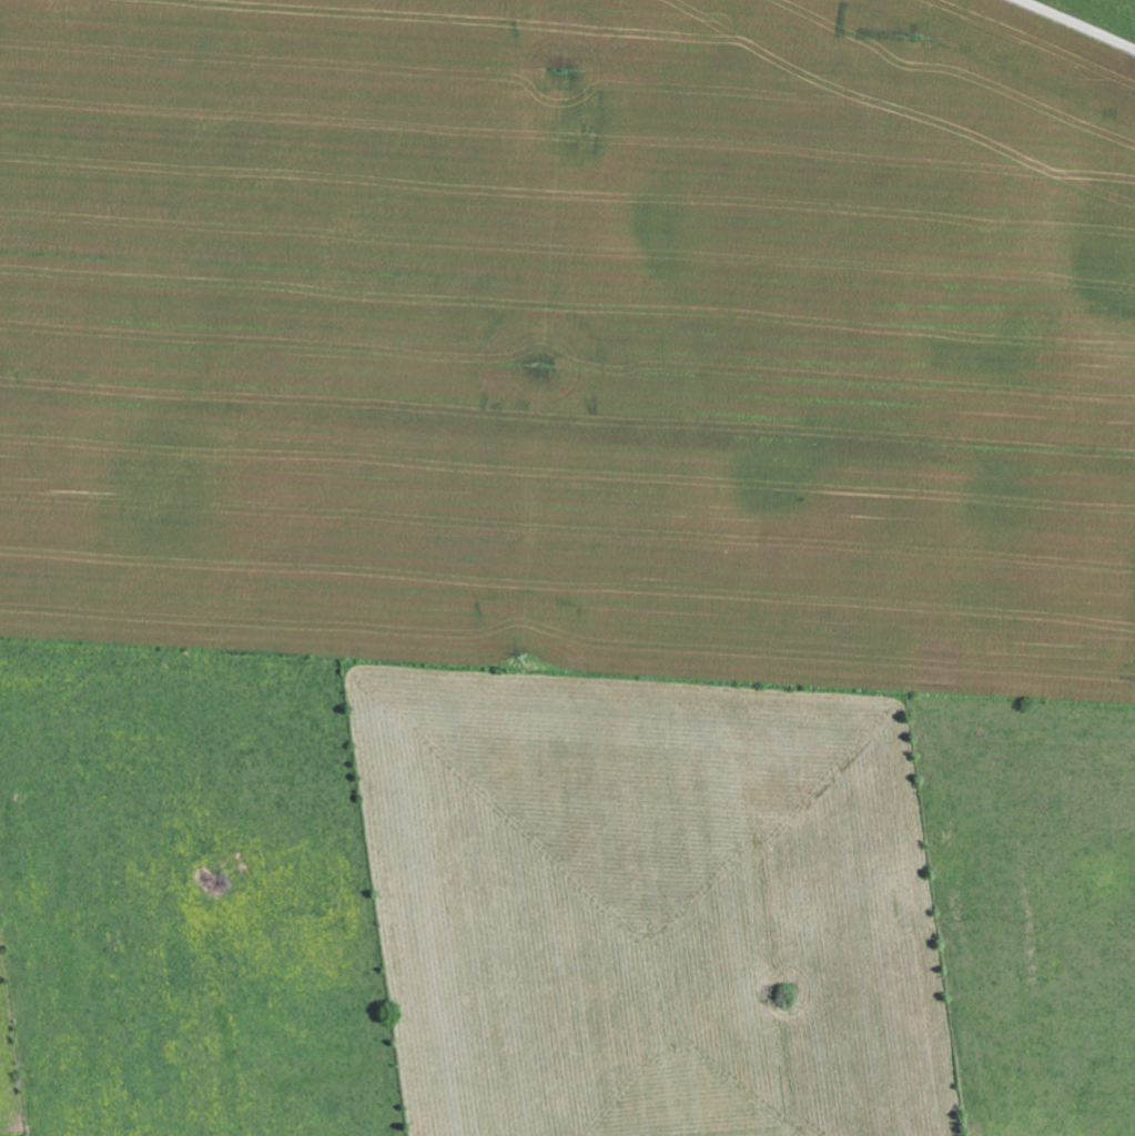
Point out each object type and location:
road: (1077, 24)

